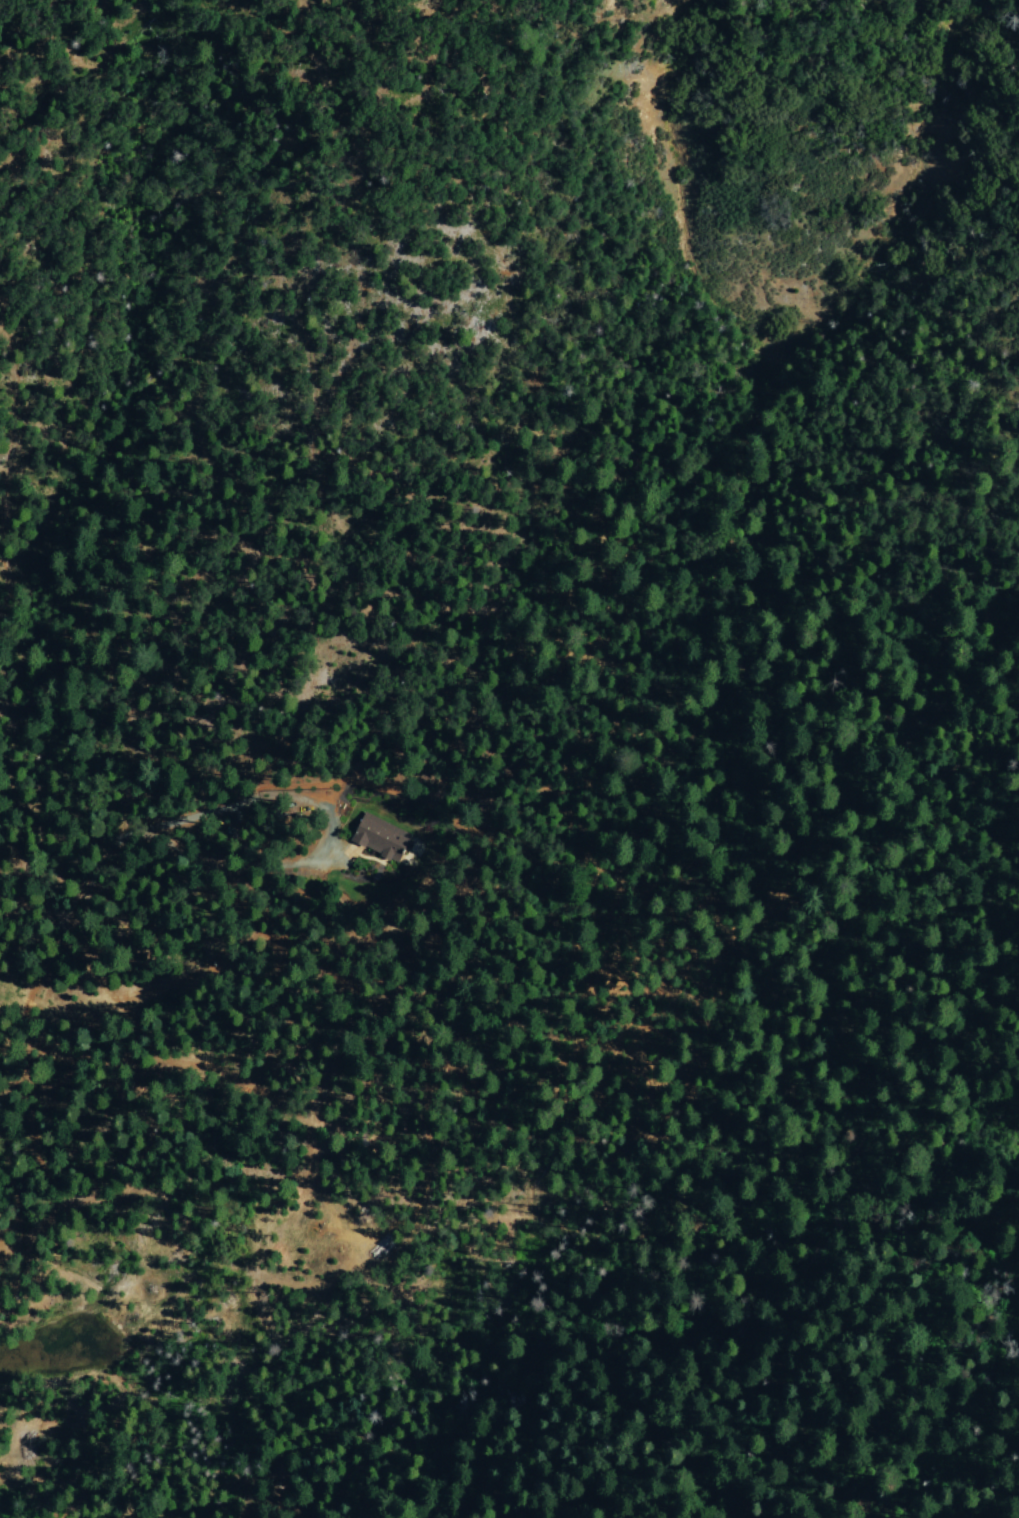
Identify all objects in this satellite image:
road: (325, 818)
building: (376, 836)
road: (30, 913)

